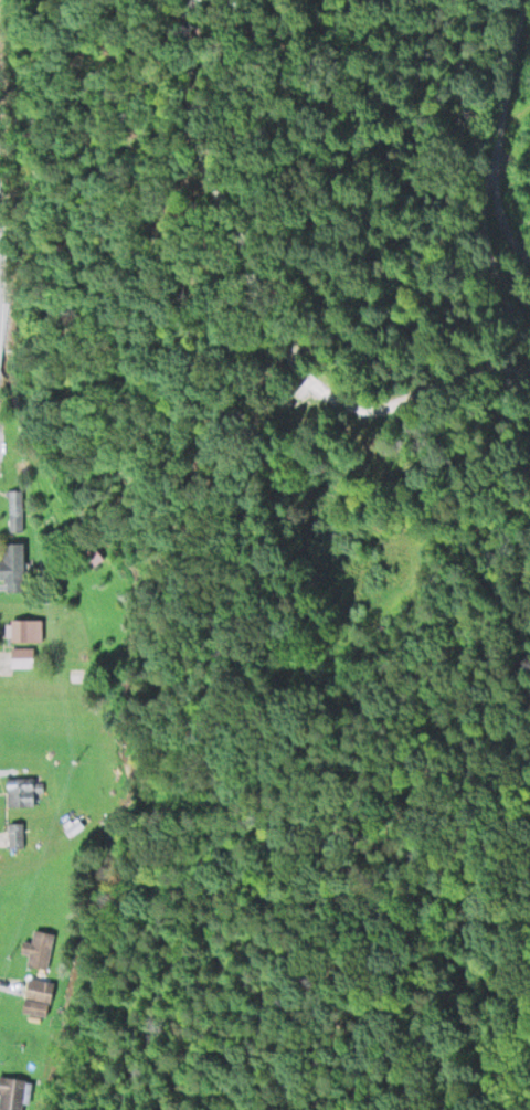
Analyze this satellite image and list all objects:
road: (498, 133)
road: (486, 244)
road: (267, 307)
building: (23, 462)
building: (15, 508)
building: (50, 522)
building: (93, 553)
building: (12, 561)
building: (24, 628)
building: (22, 654)
building: (21, 789)
building: (75, 824)
building: (14, 832)
building: (38, 947)
building: (35, 994)
building: (13, 1091)

